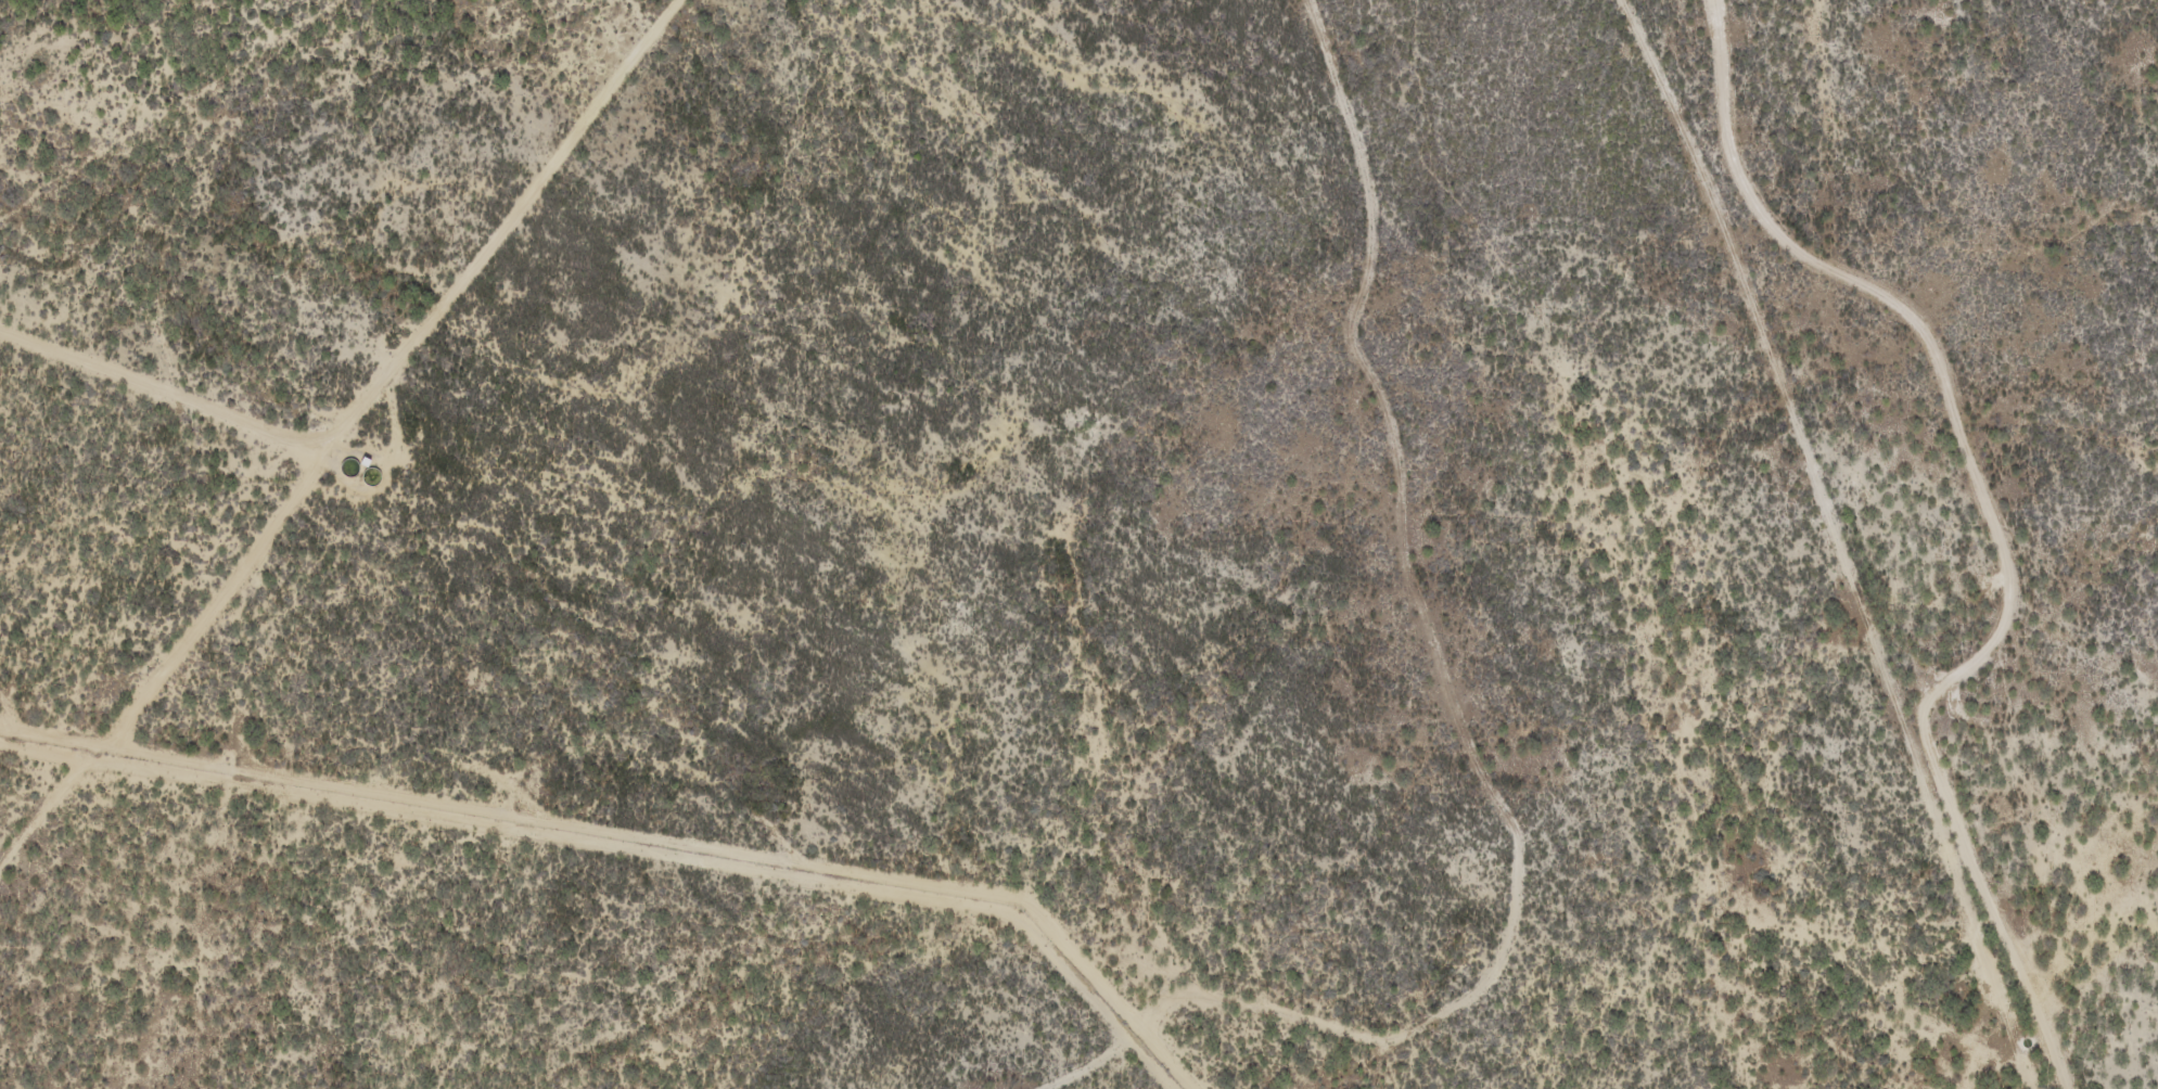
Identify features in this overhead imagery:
road: (1975, 523)
road: (630, 847)

